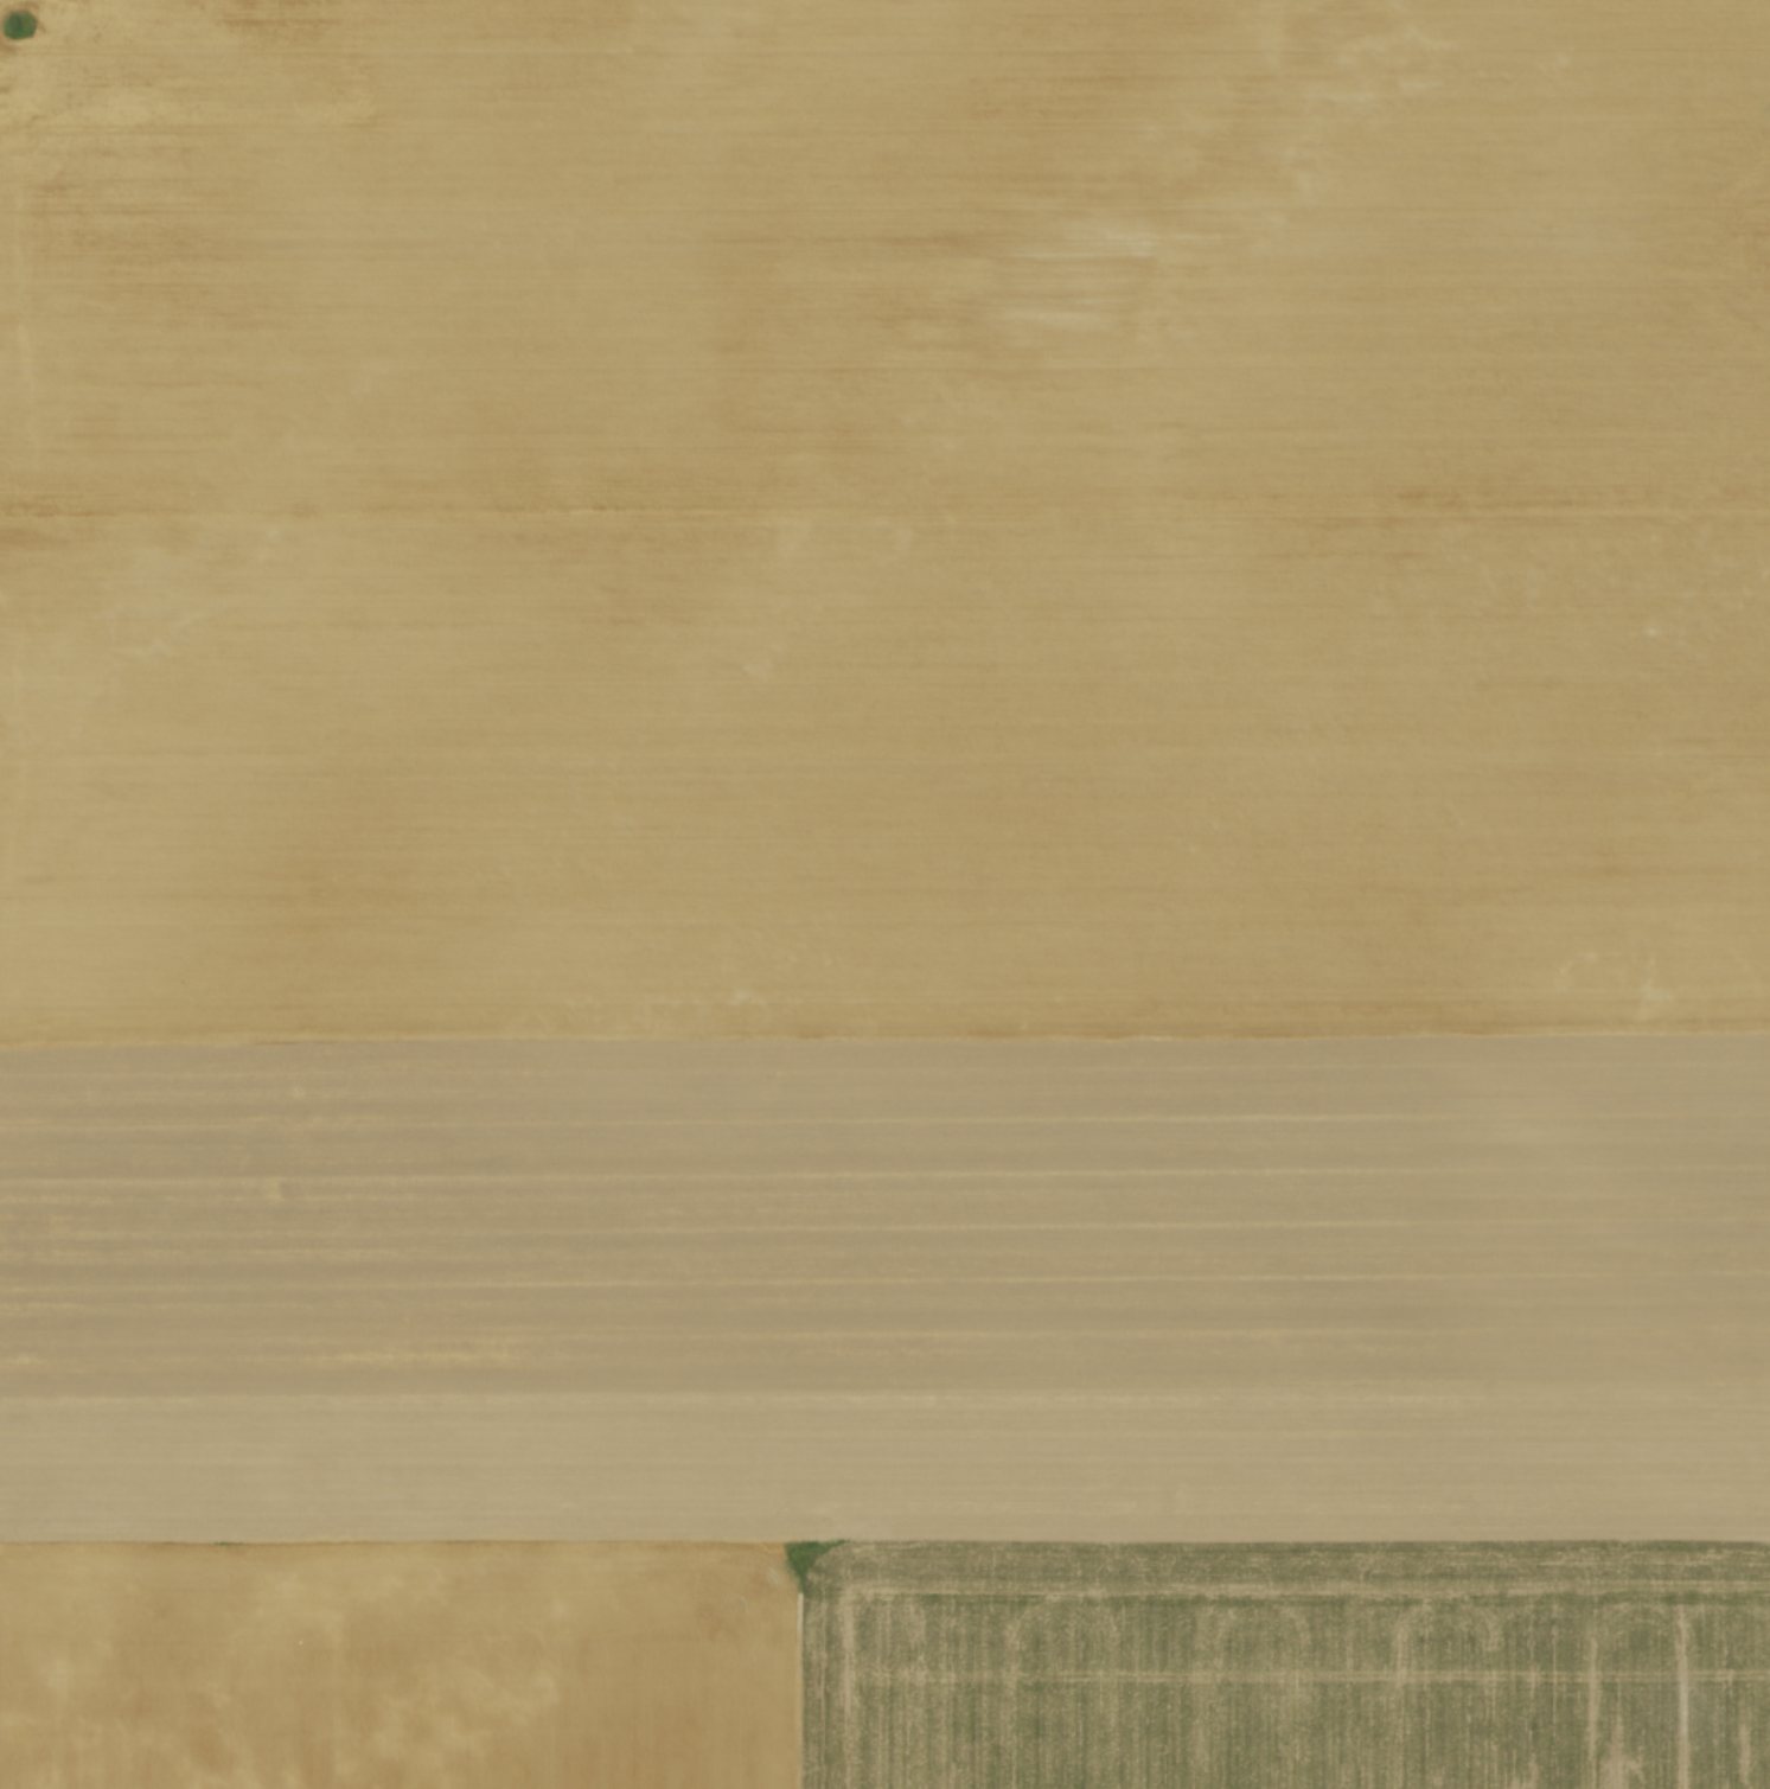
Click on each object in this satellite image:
crop: (884, 894)

